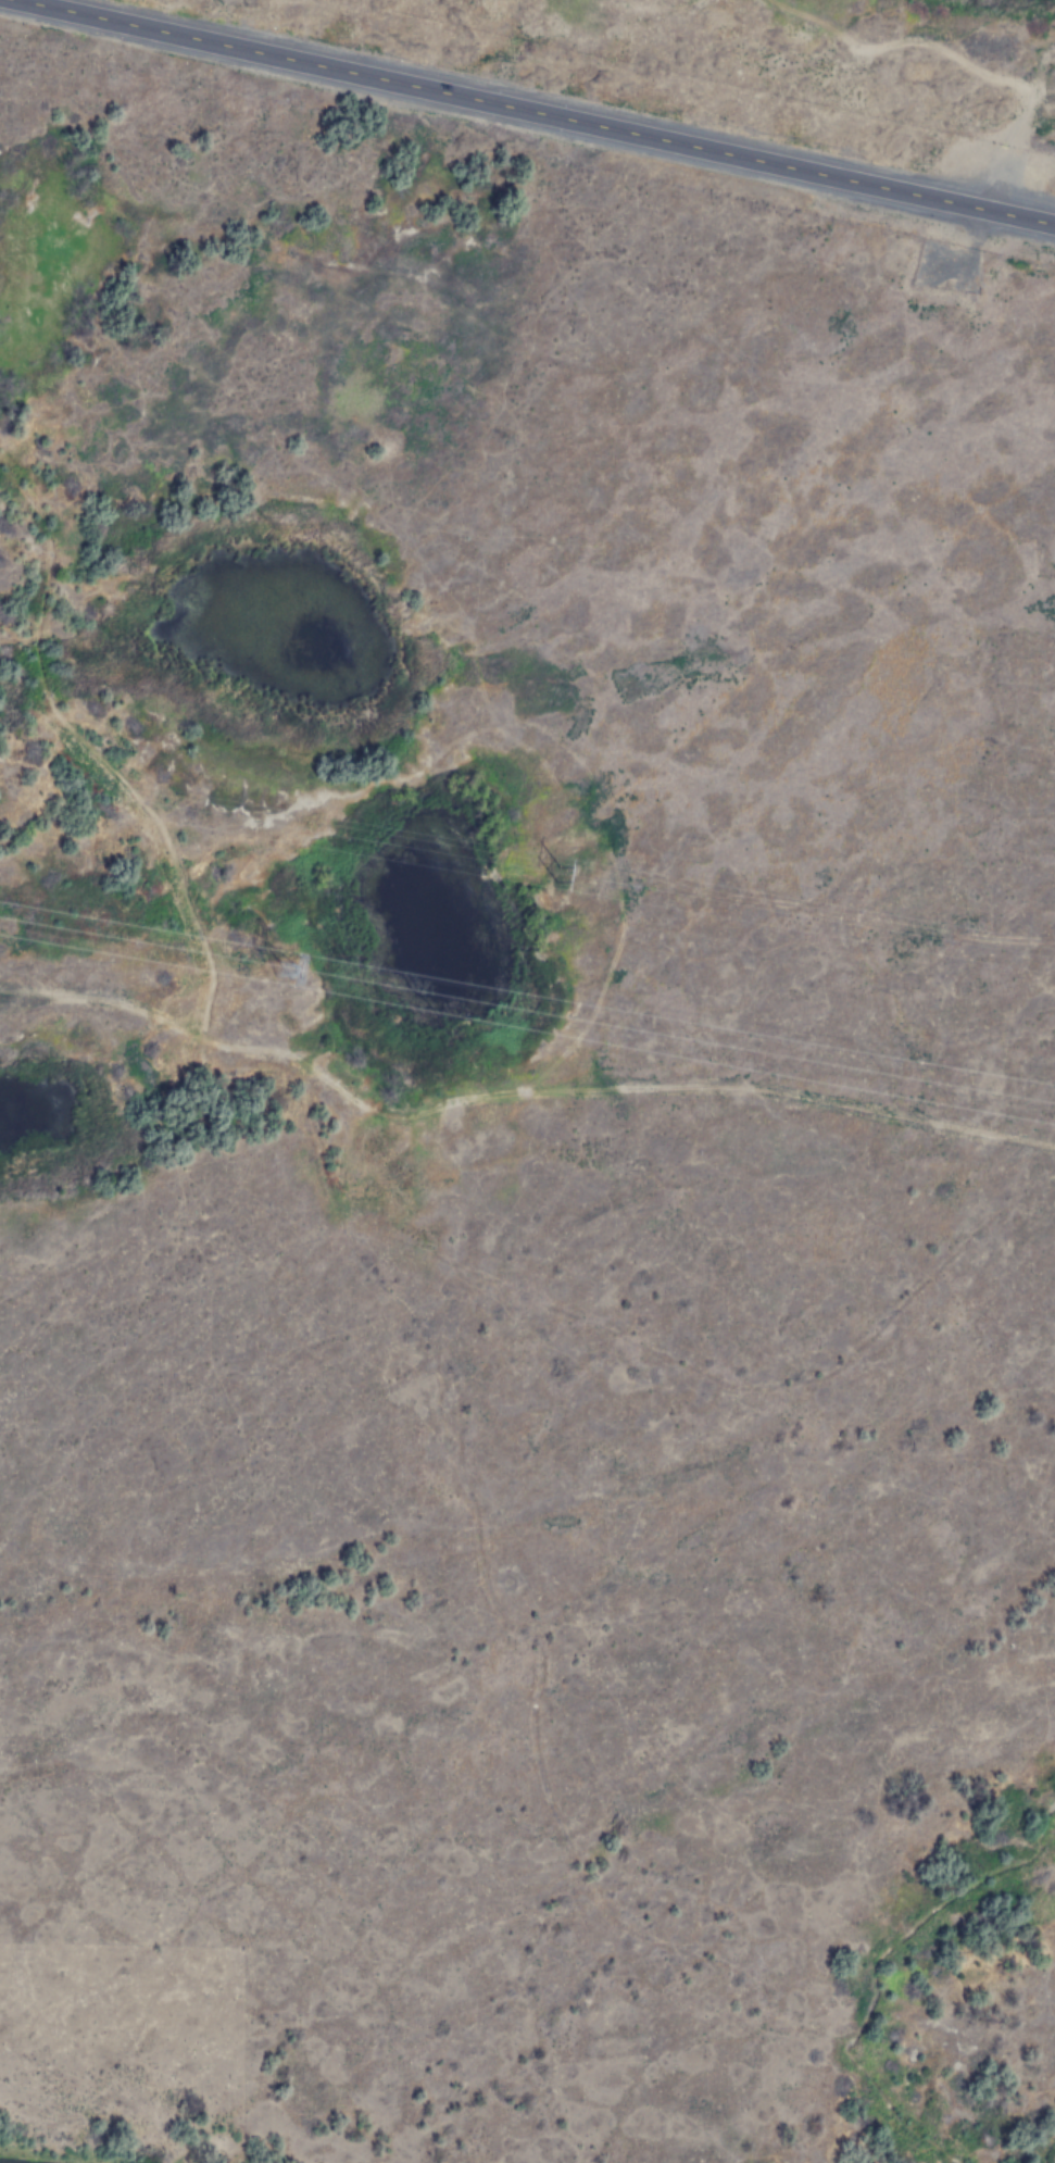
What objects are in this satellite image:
road: (527, 116)
power tower: (274, 965)

